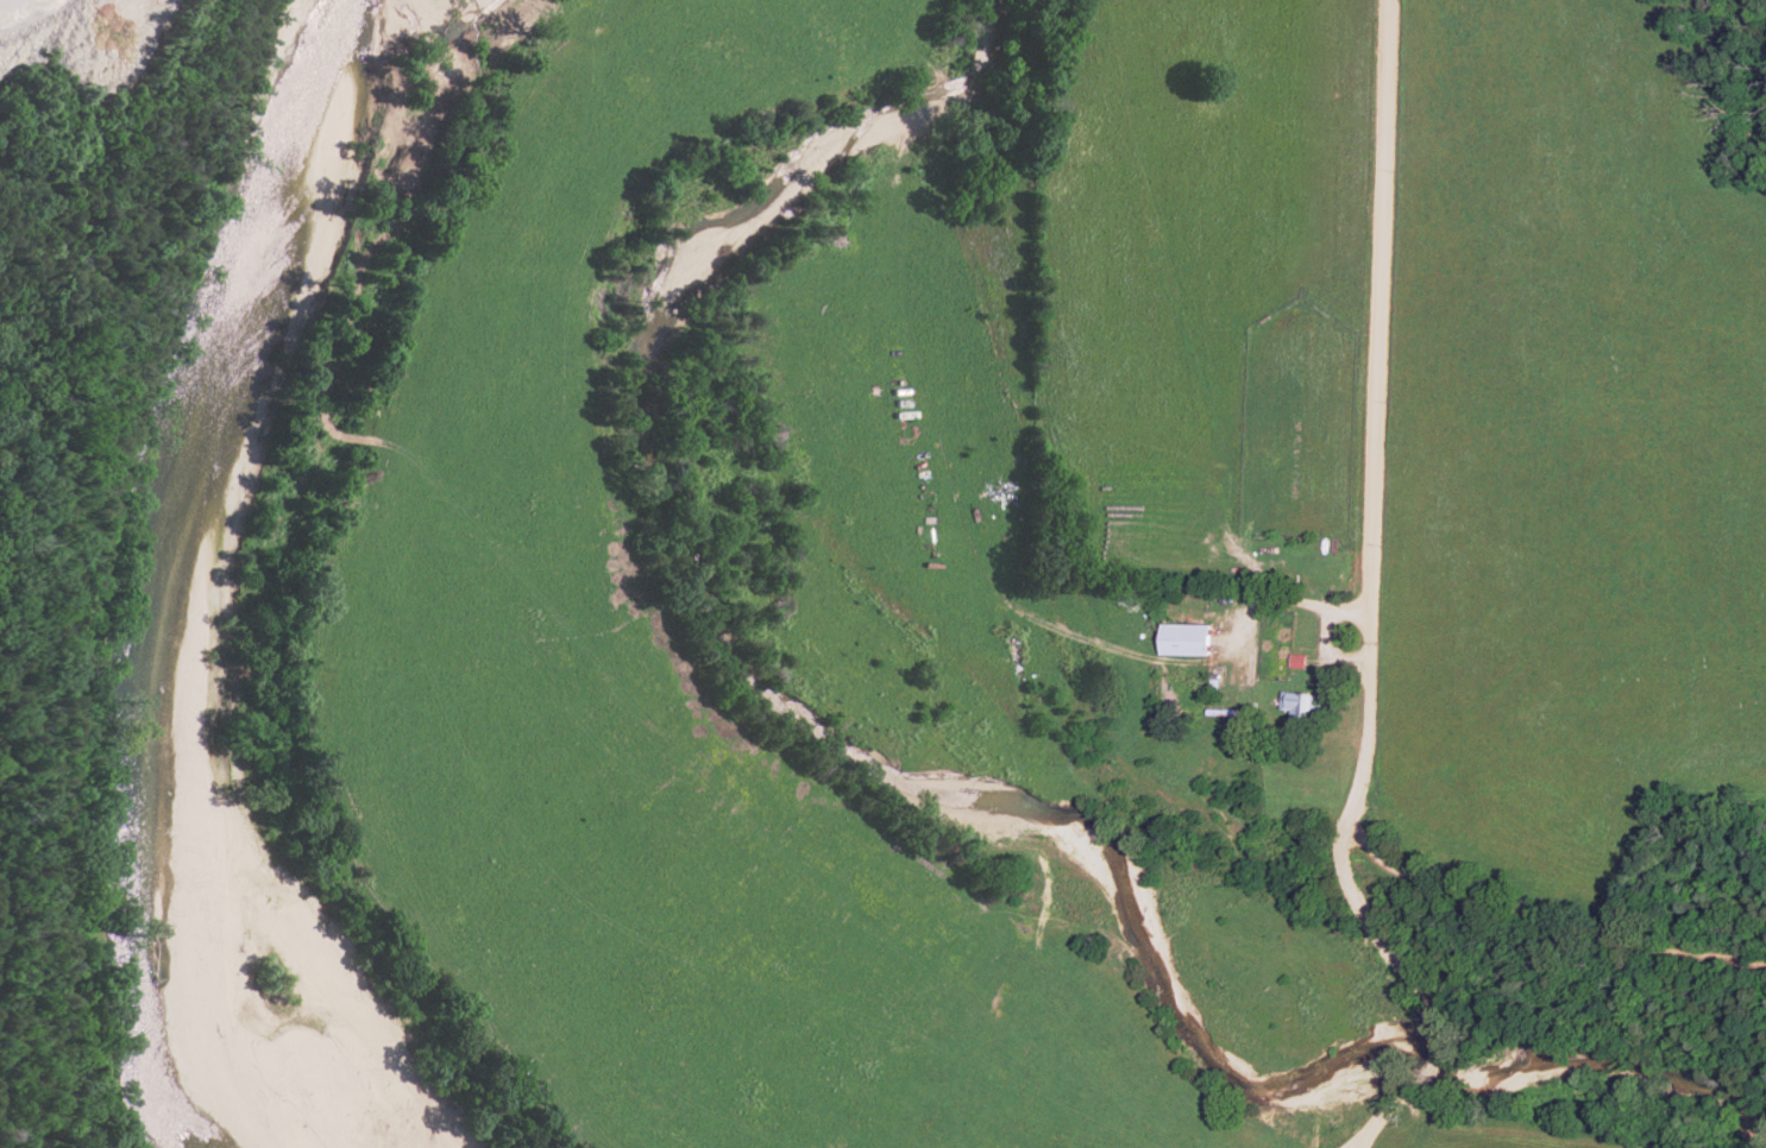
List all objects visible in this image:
quarry: (44, 37)
river: (143, 574)
road: (1371, 607)
building: (1189, 639)
building: (1302, 705)
road: (1547, 915)

